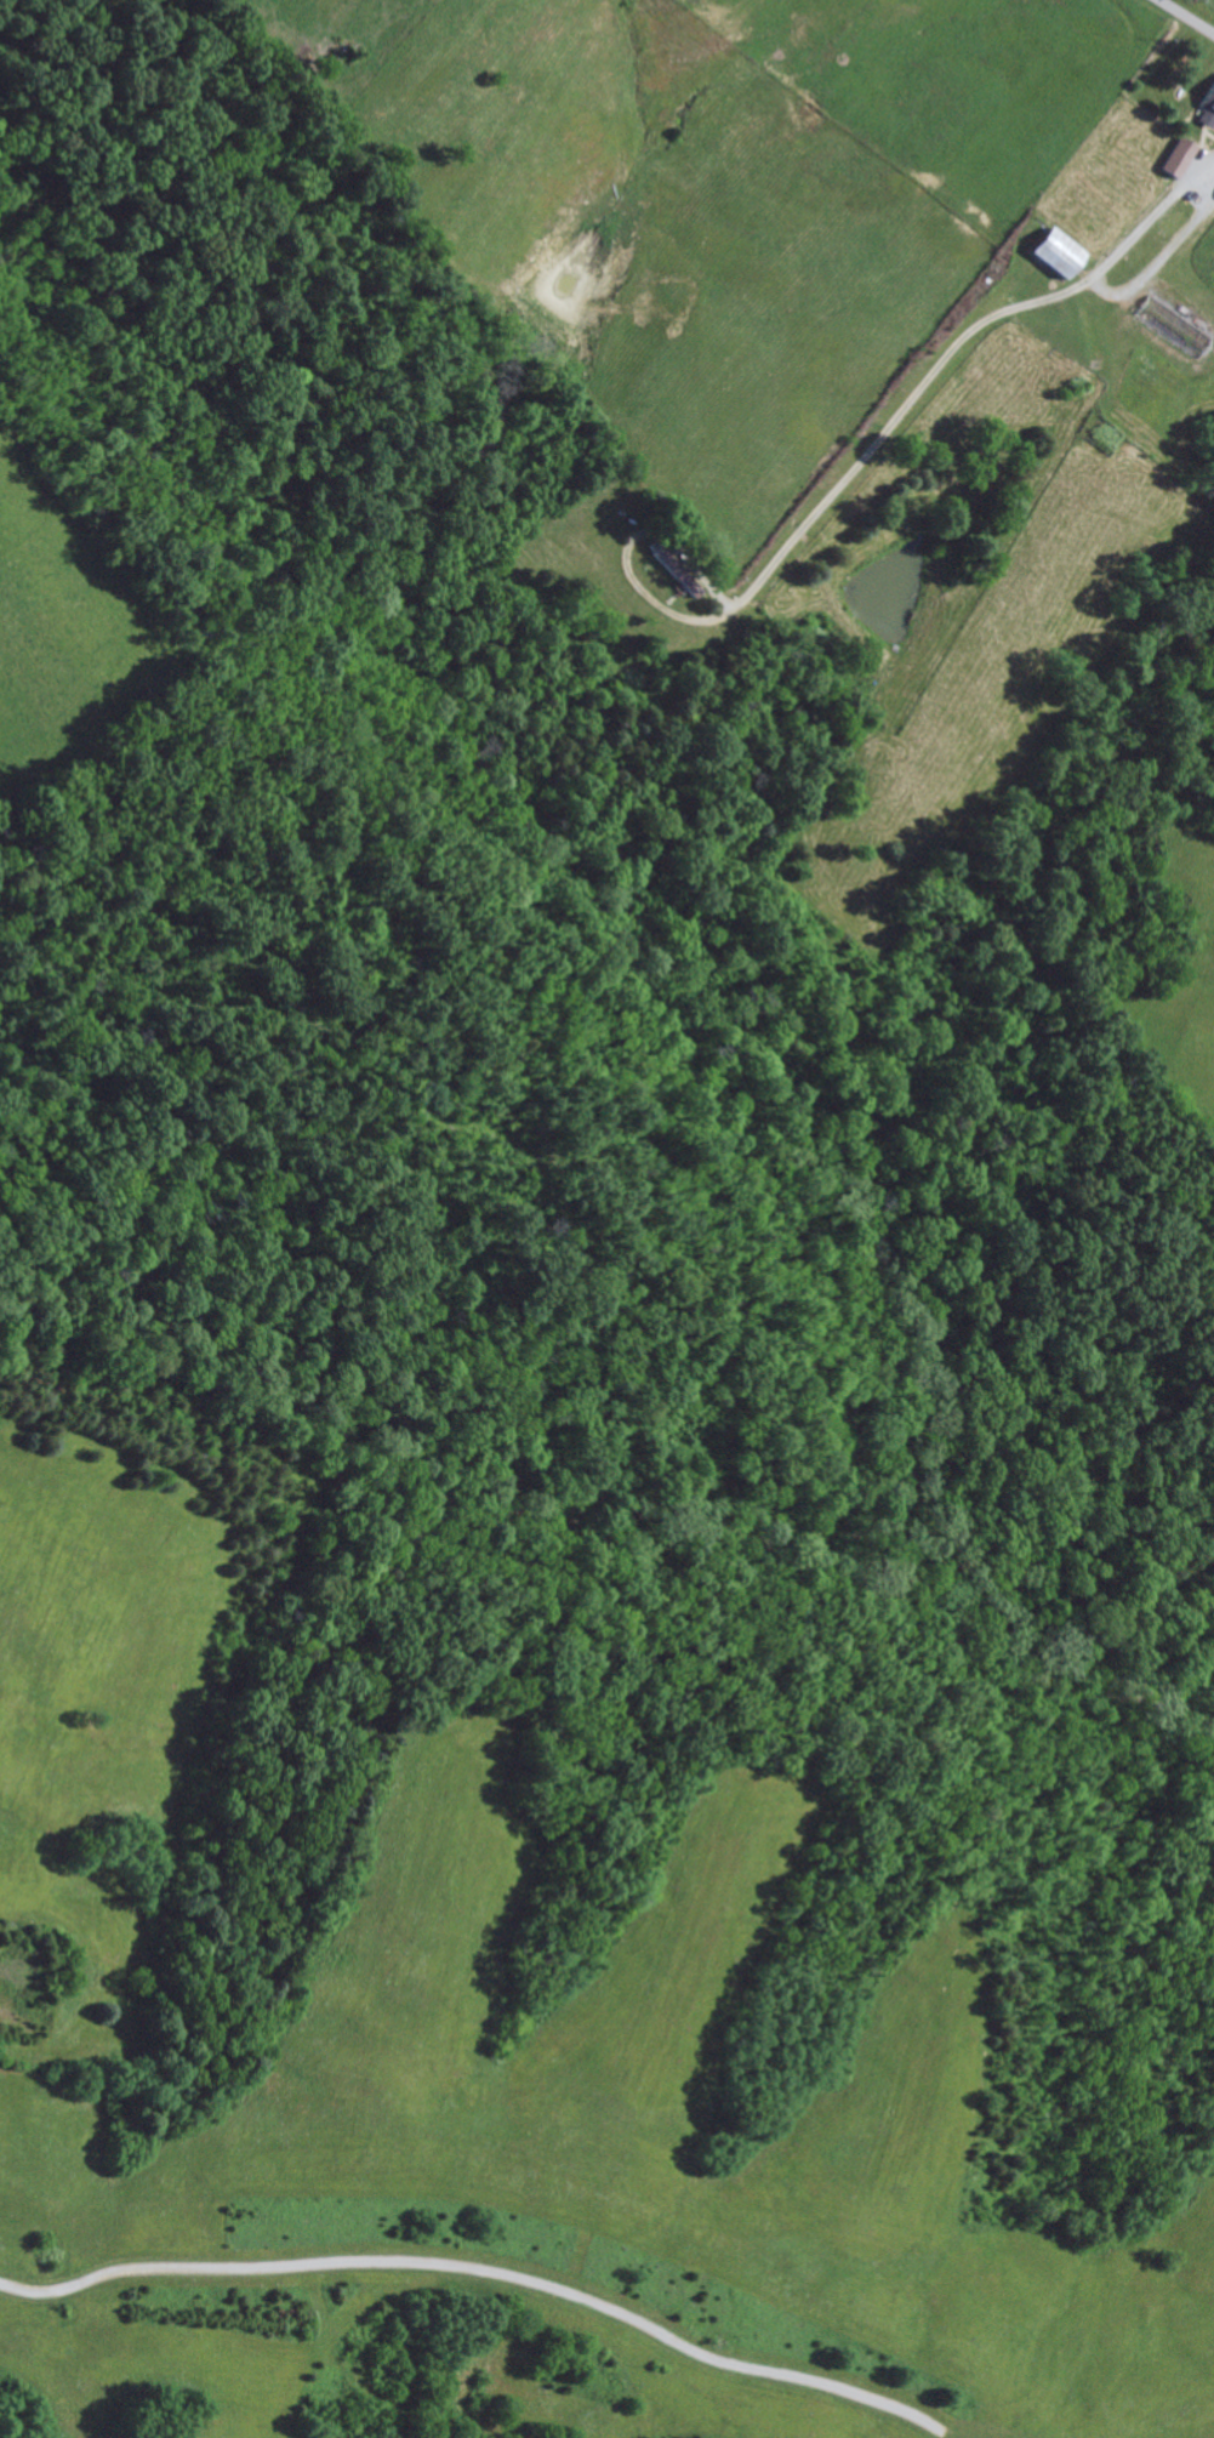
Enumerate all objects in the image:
road: (1186, 16)
building: (1208, 106)
building: (1179, 154)
building: (1059, 250)
road: (945, 354)
building: (677, 569)

